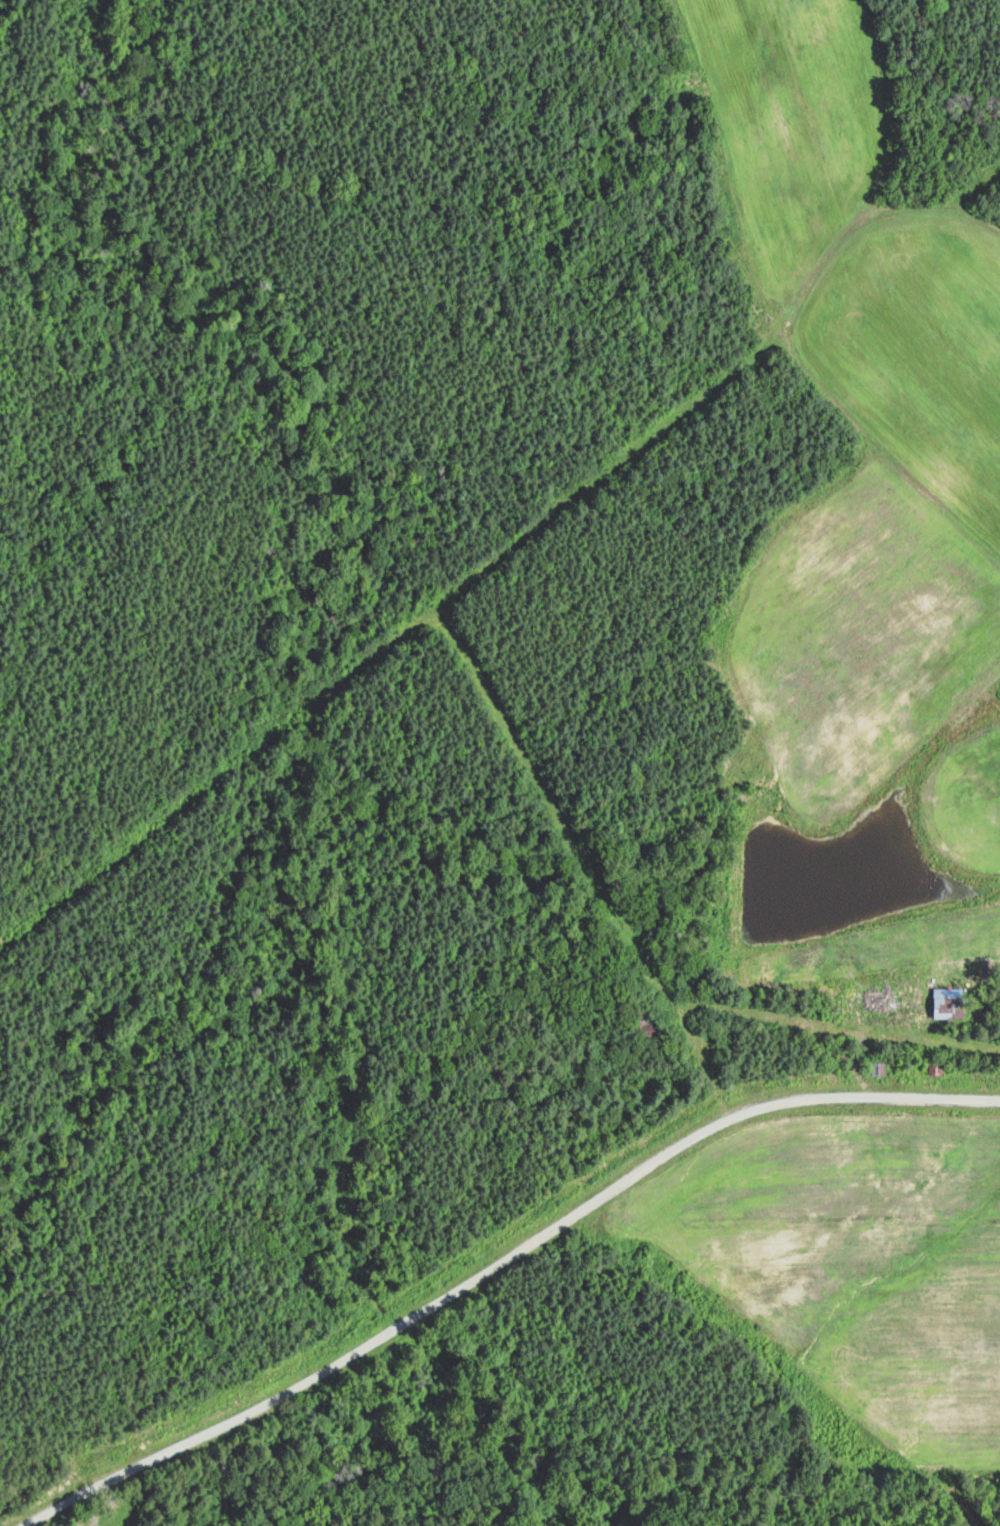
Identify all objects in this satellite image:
building: (953, 1001)
road: (504, 1266)

